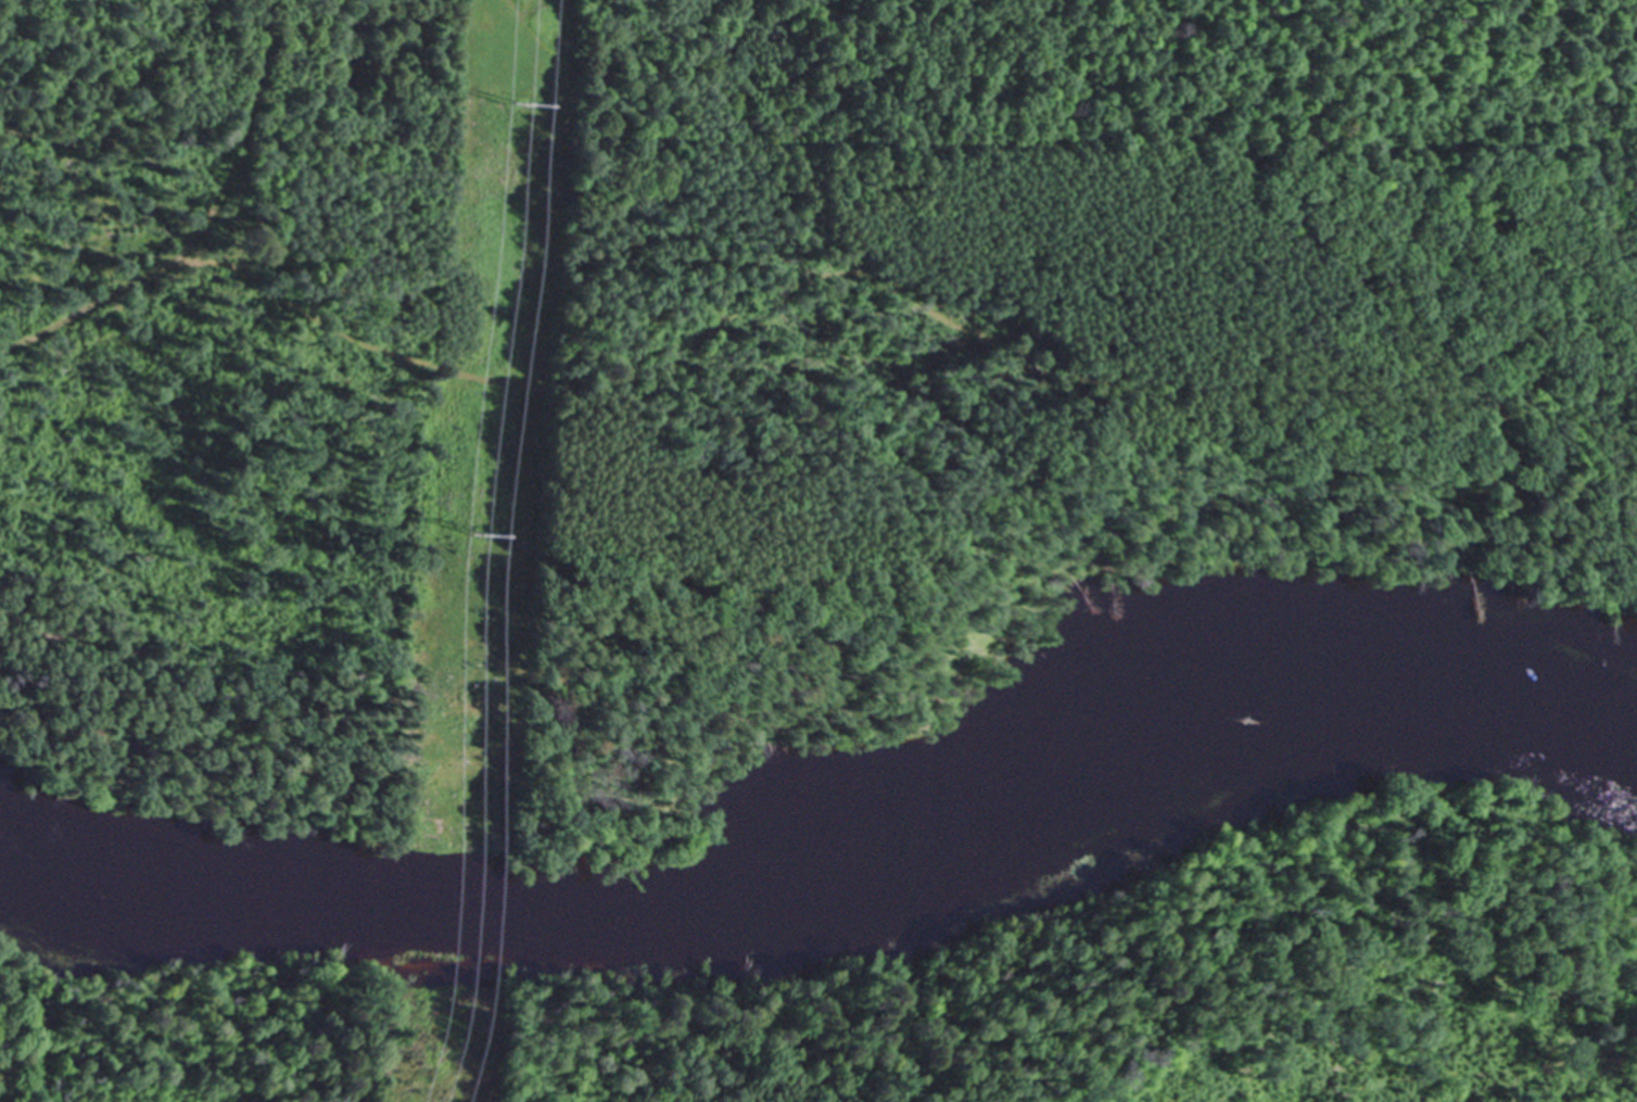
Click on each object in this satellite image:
power tower: (506, 101)
power tower: (471, 532)
river: (836, 856)

